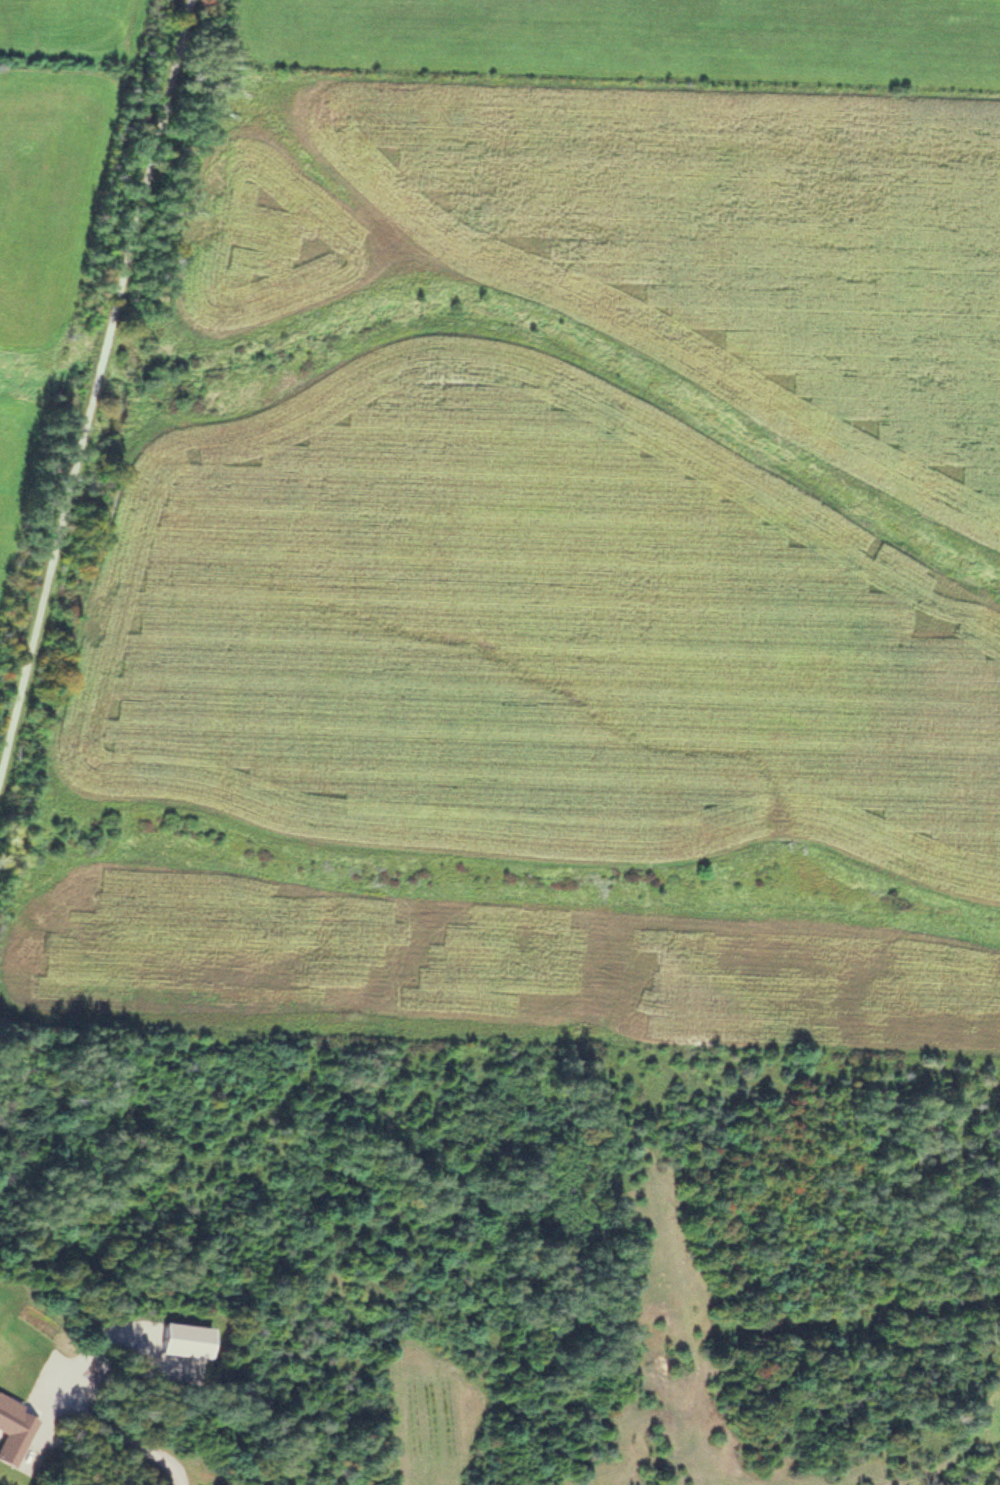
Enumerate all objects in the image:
road: (93, 381)
road: (123, 1434)

